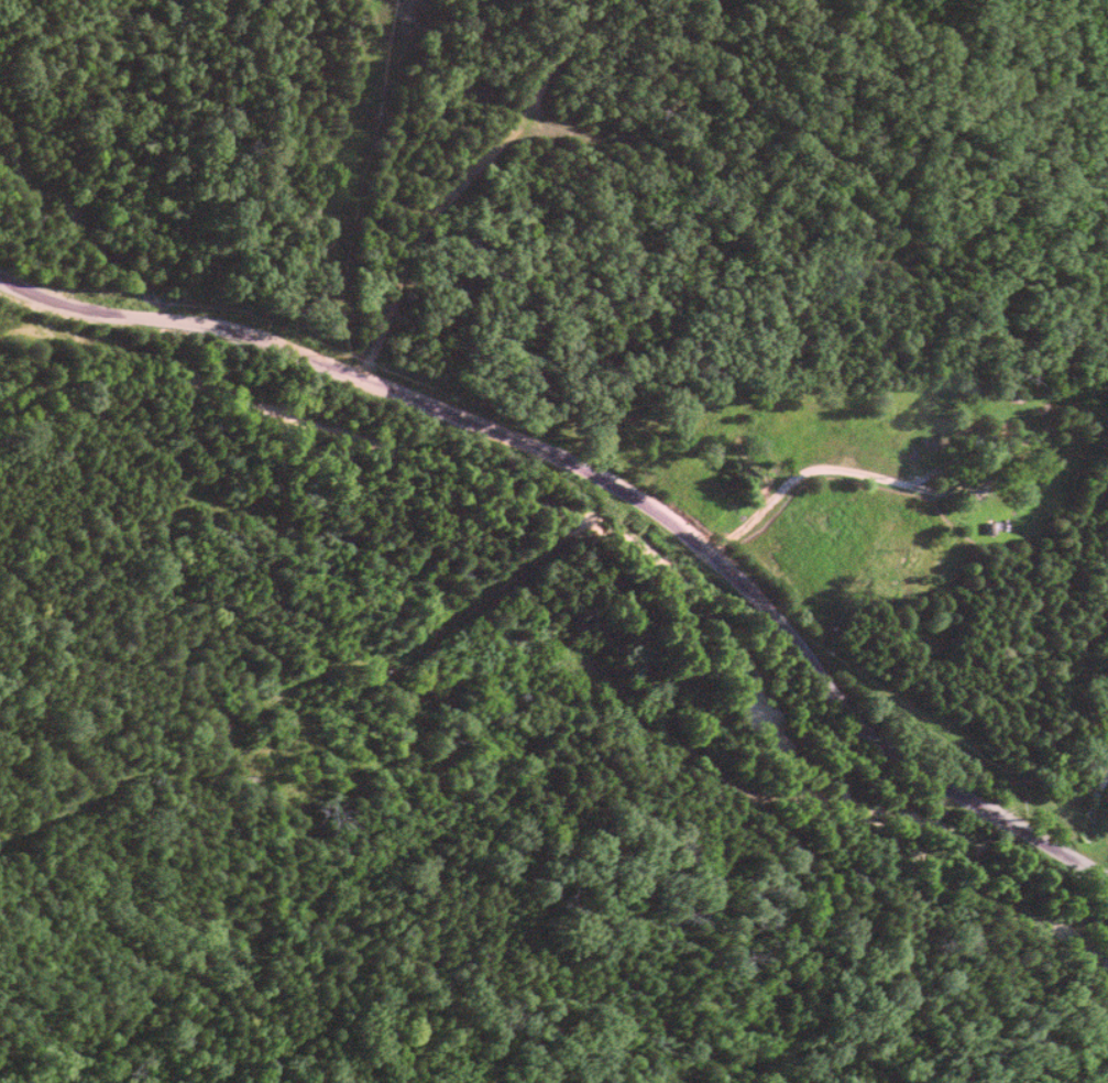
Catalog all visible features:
road: (457, 180)
road: (881, 478)
road: (607, 479)

